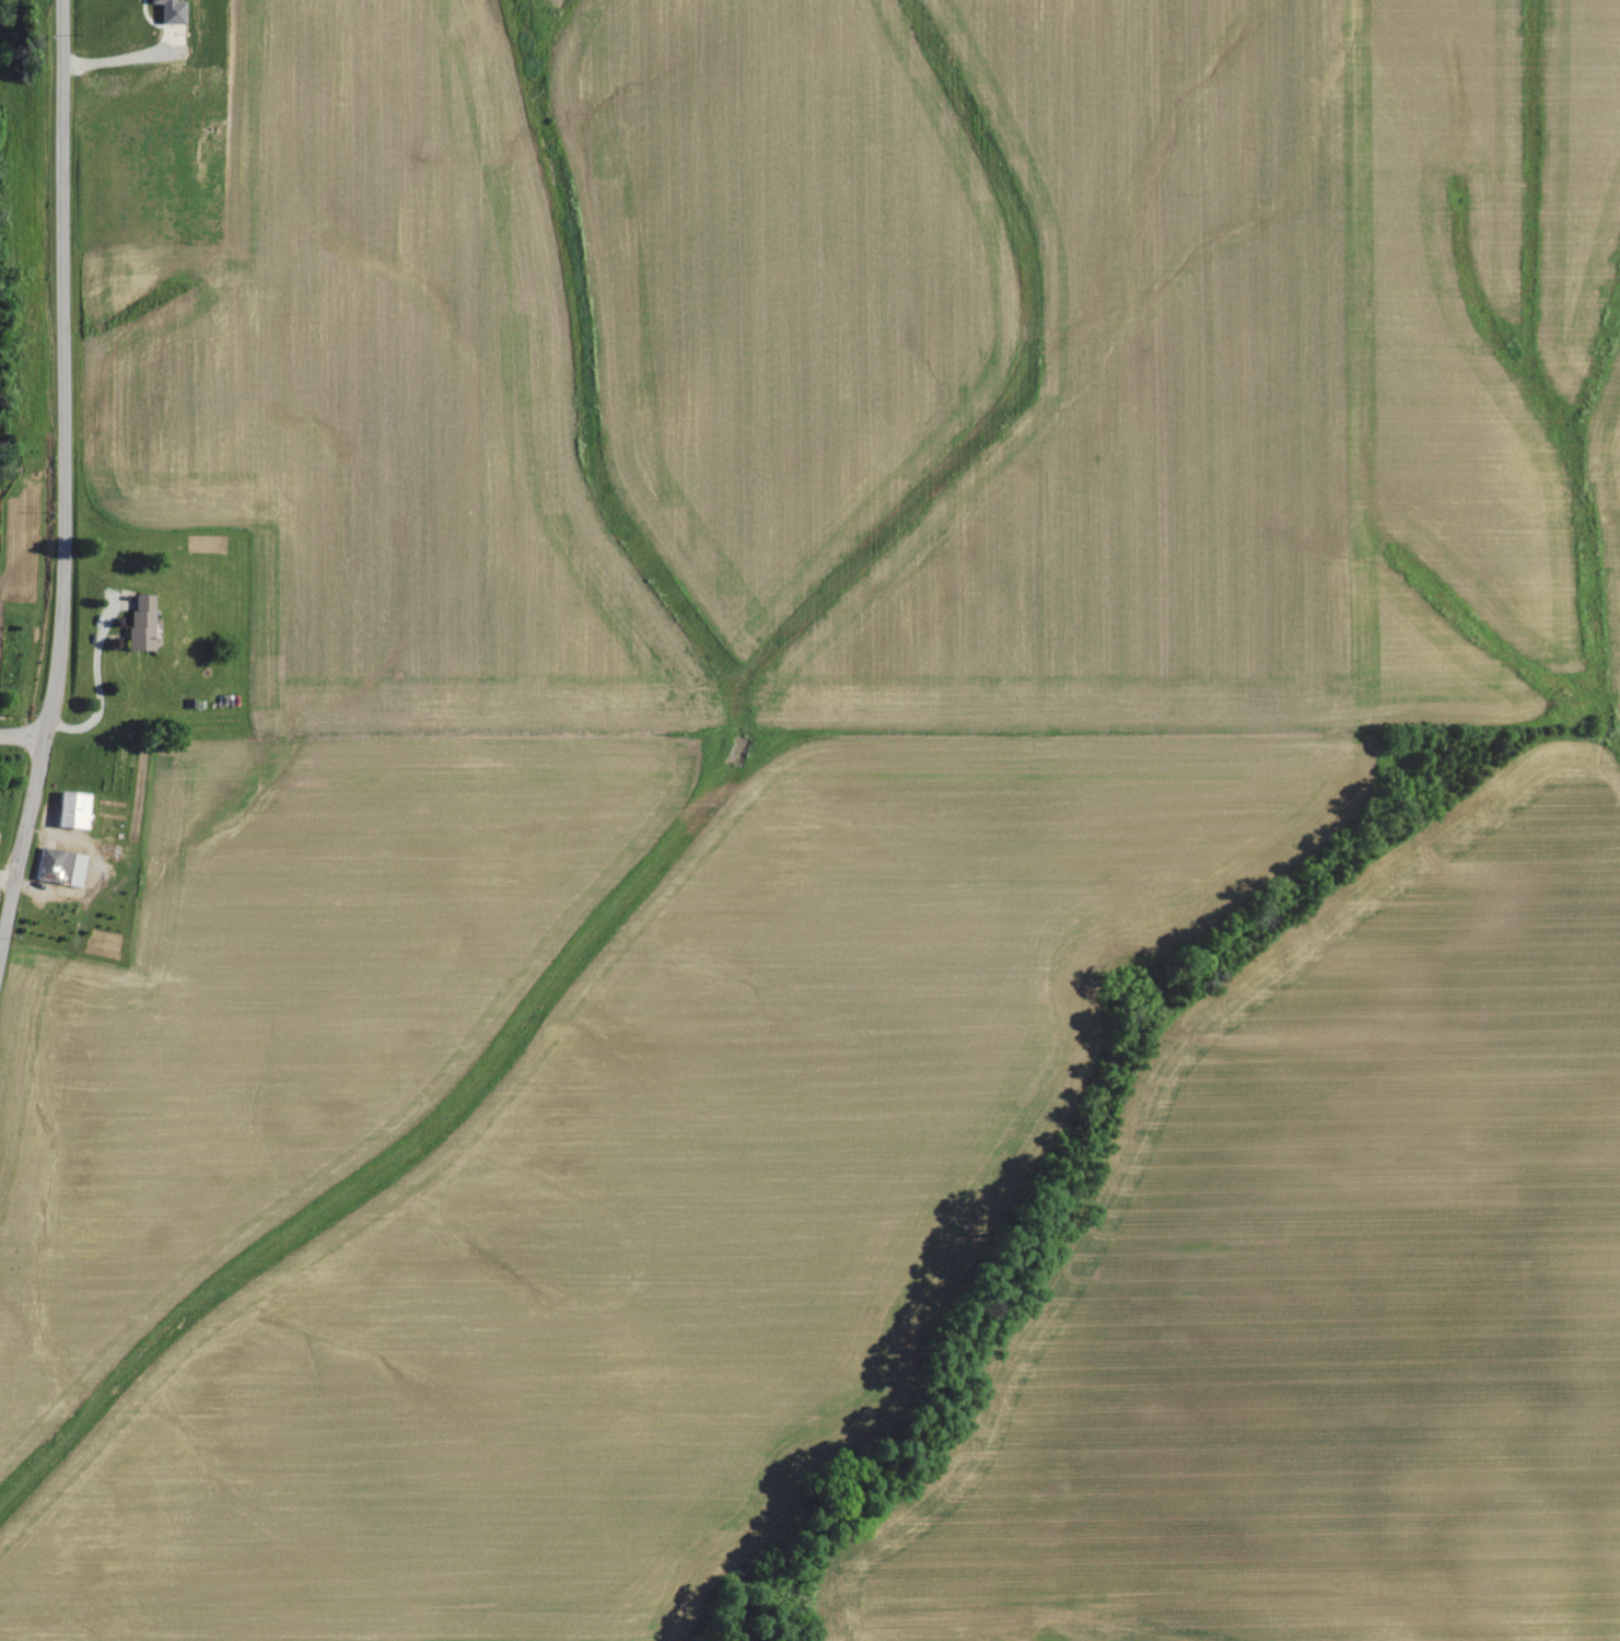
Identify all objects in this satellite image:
building: (168, 11)
road: (63, 482)
building: (139, 624)
road: (22, 734)
building: (70, 811)
building: (58, 868)

